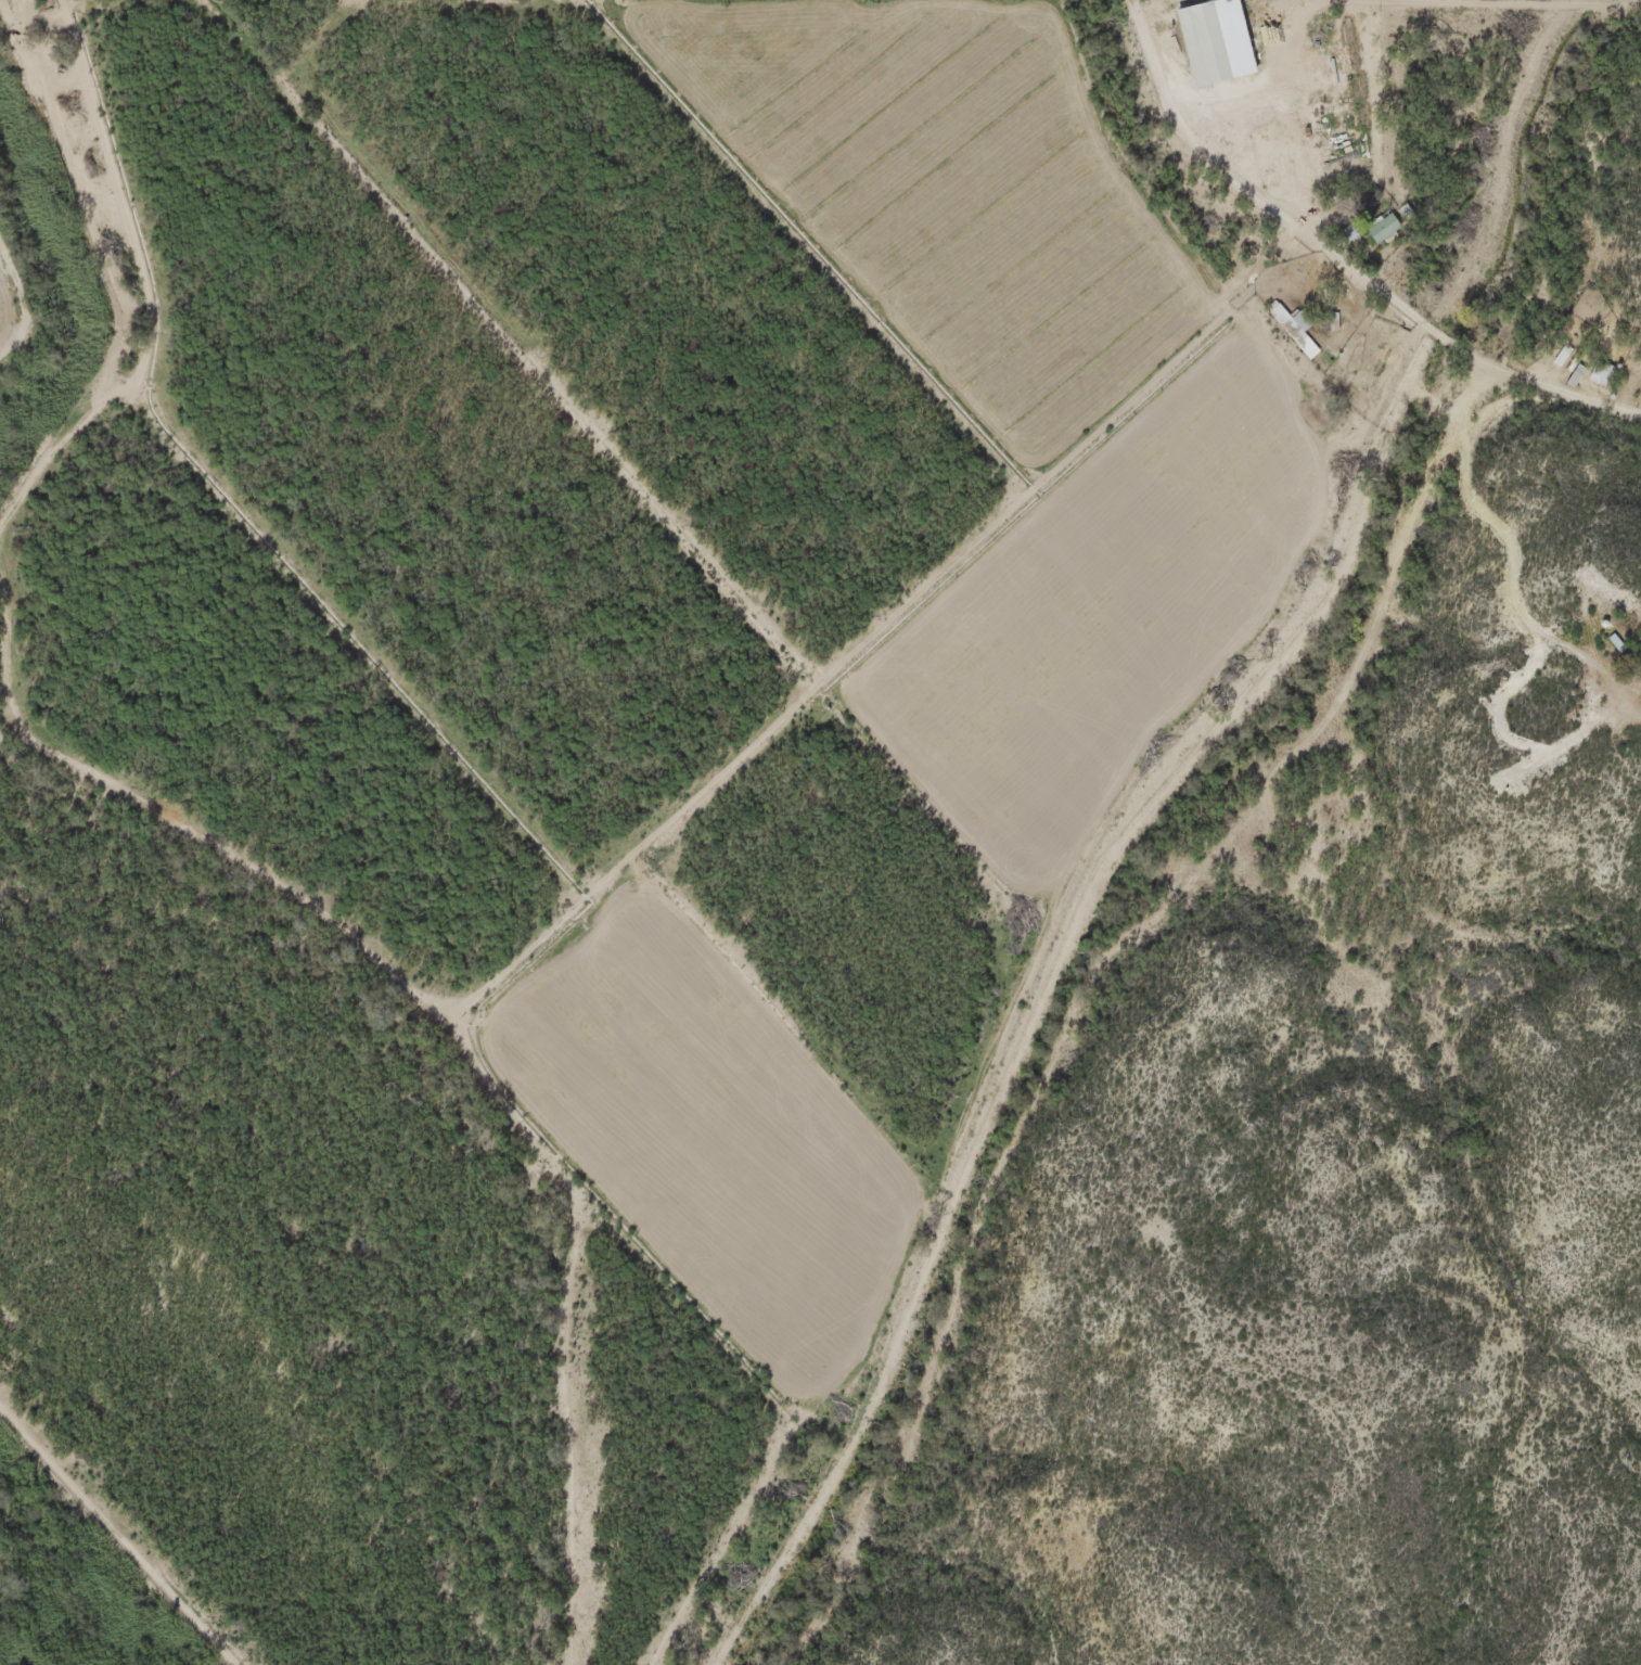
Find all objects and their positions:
building: (1197, 47)
building: (1371, 230)
road: (1344, 260)
building: (1291, 330)
building: (1574, 374)
building: (1598, 374)
building: (1639, 679)

